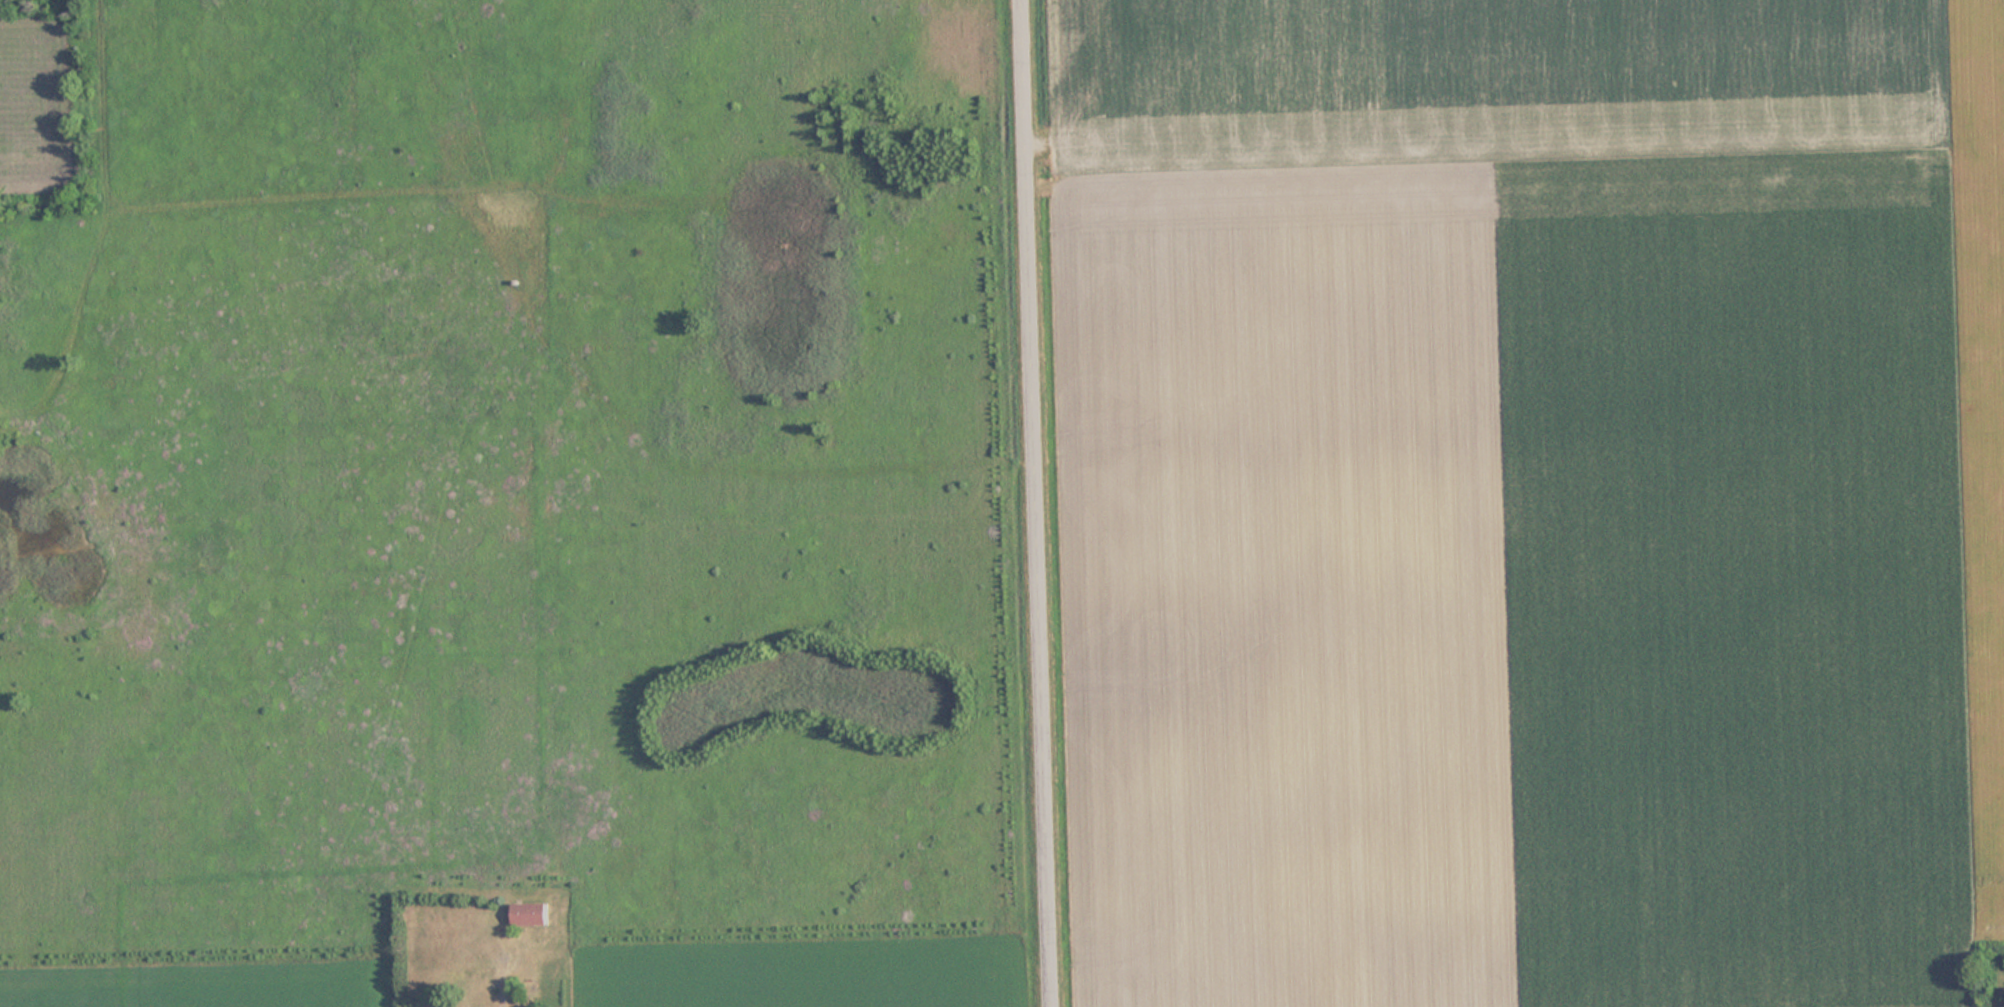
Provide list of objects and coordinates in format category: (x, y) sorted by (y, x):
road: (1036, 503)
building: (530, 914)
building: (533, 991)

